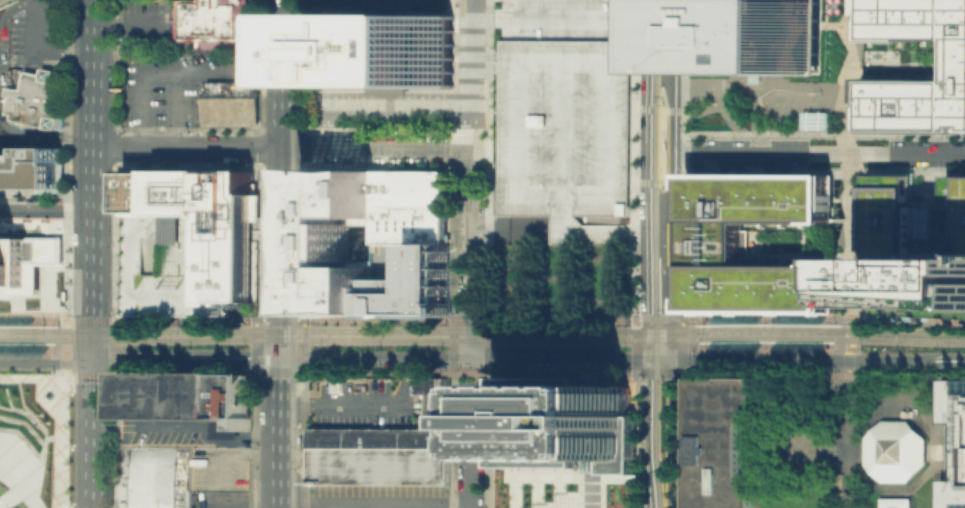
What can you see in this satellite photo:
building: (921, 20)
building: (218, 27)
parking lot: (154, 28)
parking lot: (36, 31)
road: (664, 37)
building: (759, 37)
road: (41, 48)
building: (390, 50)
road: (177, 73)
road: (472, 74)
parking lot: (180, 88)
road: (4, 98)
building: (39, 98)
building: (921, 104)
building: (231, 108)
parking lot: (564, 108)
road: (176, 110)
road: (662, 110)
railway: (659, 114)
building: (566, 134)
road: (653, 143)
road: (673, 143)
road: (663, 146)
road: (282, 147)
road: (818, 152)
road: (850, 158)
building: (33, 172)
road: (282, 179)
road: (663, 183)
road: (46, 208)
road: (471, 221)
road: (498, 228)
building: (338, 241)
building: (410, 241)
building: (715, 243)
building: (914, 243)
road: (93, 254)
railway: (294, 254)
railway: (657, 254)
building: (165, 263)
parking garage: (165, 263)
building: (232, 263)
building: (30, 273)
road: (553, 279)
park: (560, 282)
road: (663, 285)
railway: (693, 313)
road: (827, 317)
railway: (55, 318)
road: (32, 319)
road: (280, 319)
road: (661, 319)
road: (91, 320)
road: (187, 320)
road: (378, 320)
road: (560, 321)
road: (470, 322)
road: (468, 325)
railway: (482, 331)
road: (851, 336)
road: (633, 338)
road: (690, 339)
railway: (482, 340)
road: (66, 344)
road: (258, 346)
road: (303, 346)
road: (452, 346)
road: (769, 347)
railway: (52, 348)
road: (488, 348)
road: (32, 350)
railway: (833, 351)
traffic signals: (467, 357)
road: (471, 357)
traffic signals: (281, 358)
traffic signals: (663, 358)
road: (187, 360)
road: (813, 360)
road: (46, 361)
traffic signals: (93, 361)
road: (116, 369)
road: (280, 373)
building: (591, 379)
street lamp: (305, 380)
road: (468, 383)
building: (185, 394)
road: (366, 402)
parking lot: (363, 404)
building: (437, 410)
building: (556, 418)
road: (655, 418)
road: (671, 418)
road: (154, 424)
road: (281, 433)
road: (227, 434)
road: (261, 434)
road: (848, 434)
building: (162, 437)
parking garage: (162, 437)
road: (305, 440)
road: (41, 442)
building: (718, 443)
road: (846, 443)
road: (469, 445)
park: (849, 445)
road: (297, 448)
road: (233, 451)
building: (896, 454)
building: (560, 455)
building: (961, 455)
building: (621, 457)
building: (377, 464)
railway: (300, 465)
parking lot: (220, 467)
building: (156, 477)
building: (622, 477)
road: (664, 493)
parking lot: (376, 496)
parking lot: (220, 498)
road: (375, 503)
building: (896, 504)
road: (216, 507)

